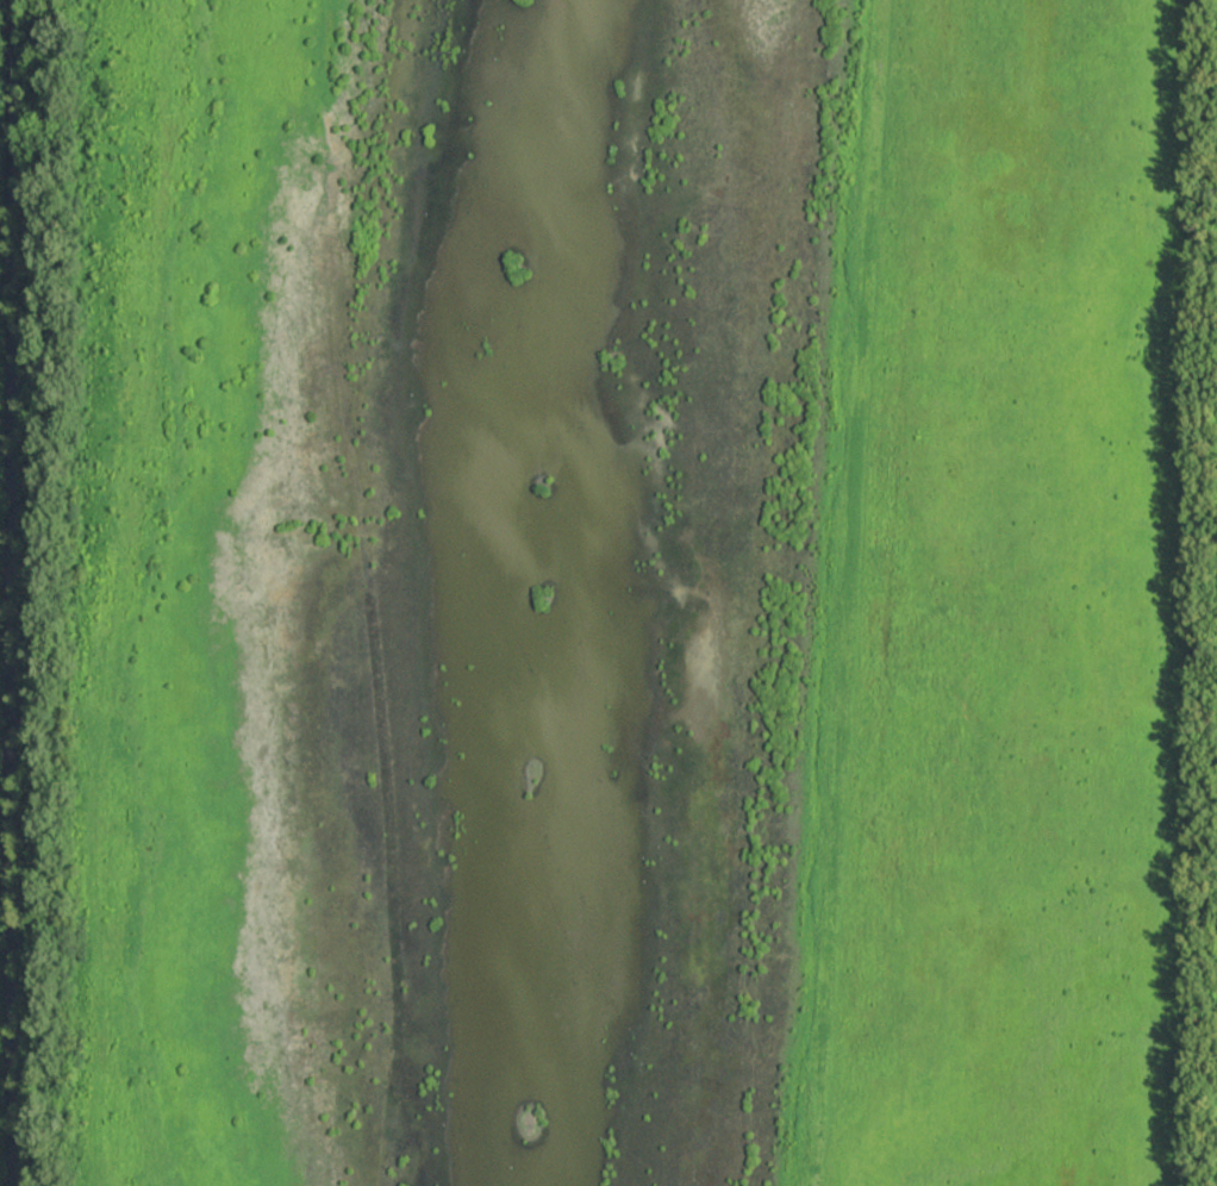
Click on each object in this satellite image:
road: (848, 593)

